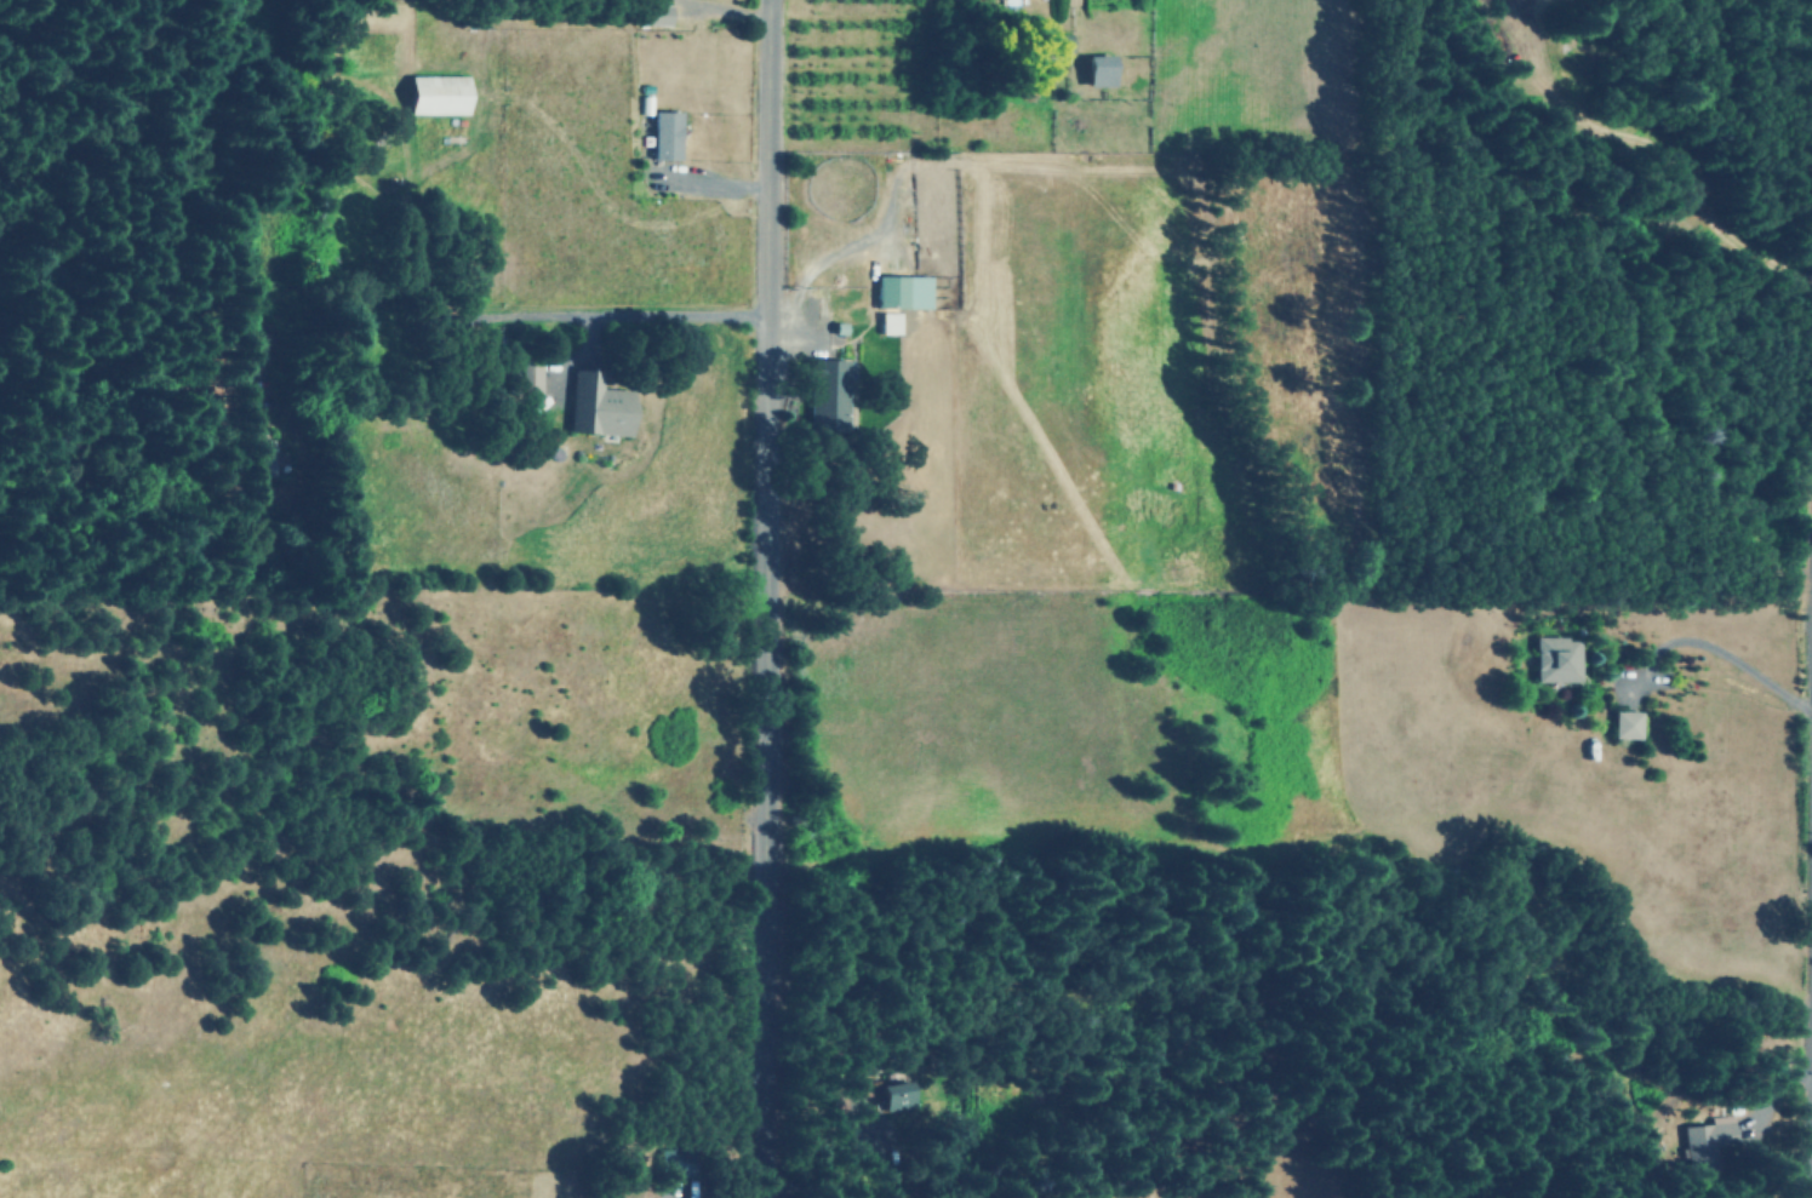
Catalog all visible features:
building: (656, 13)
building: (1052, 46)
building: (1097, 70)
building: (436, 94)
building: (664, 134)
building: (902, 292)
building: (522, 378)
building: (824, 394)
building: (595, 406)
building: (262, 459)
road: (779, 598)
building: (1555, 659)
building: (1625, 724)
building: (857, 1084)
building: (892, 1095)
building: (1704, 1136)
building: (673, 1162)
road: (1793, 1183)

